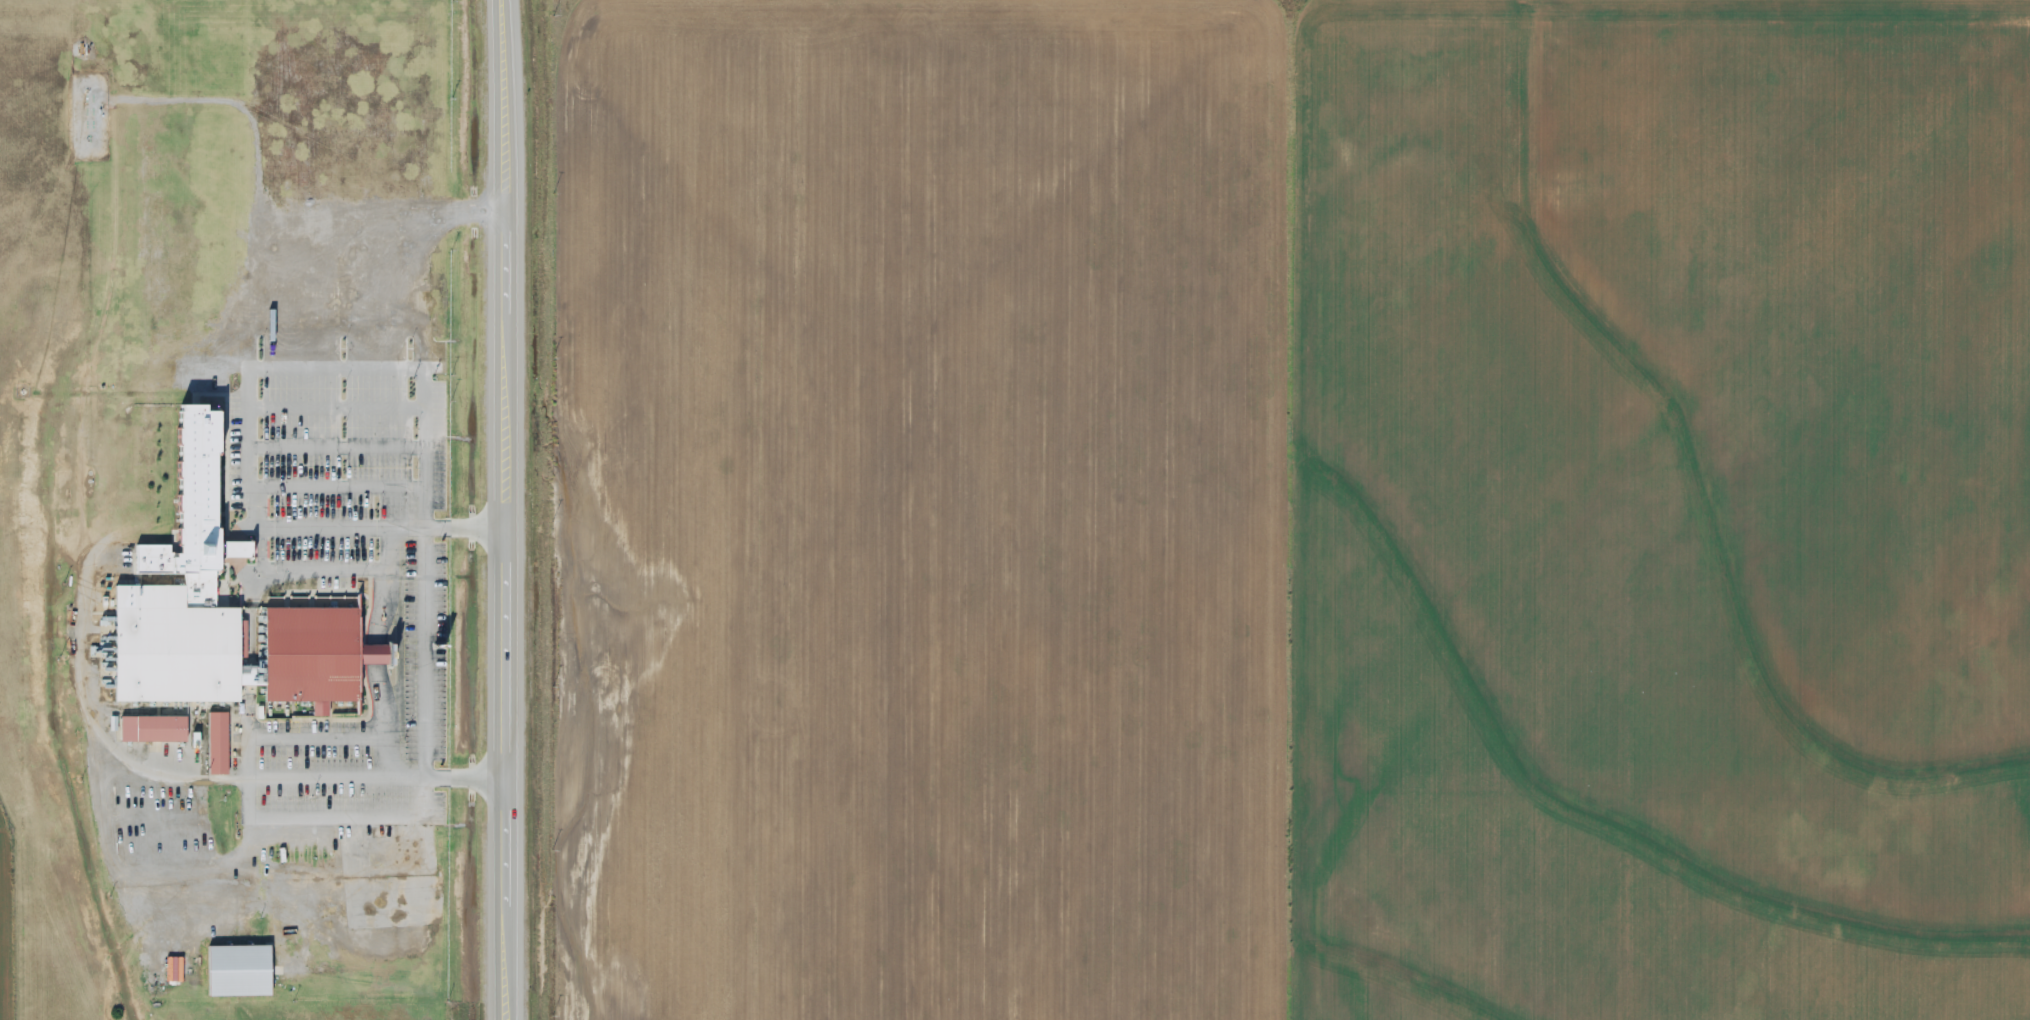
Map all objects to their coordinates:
building: (81, 50)
road: (497, 102)
road: (422, 221)
road: (498, 256)
road: (334, 361)
road: (335, 401)
road: (499, 416)
road: (335, 443)
road: (336, 482)
road: (379, 523)
building: (182, 586)
parking lot: (425, 646)
road: (377, 647)
road: (500, 647)
building: (316, 649)
building: (156, 724)
building: (221, 735)
road: (424, 750)
road: (250, 797)
road: (337, 812)
road: (501, 835)
building: (401, 853)
road: (501, 960)
building: (244, 966)

